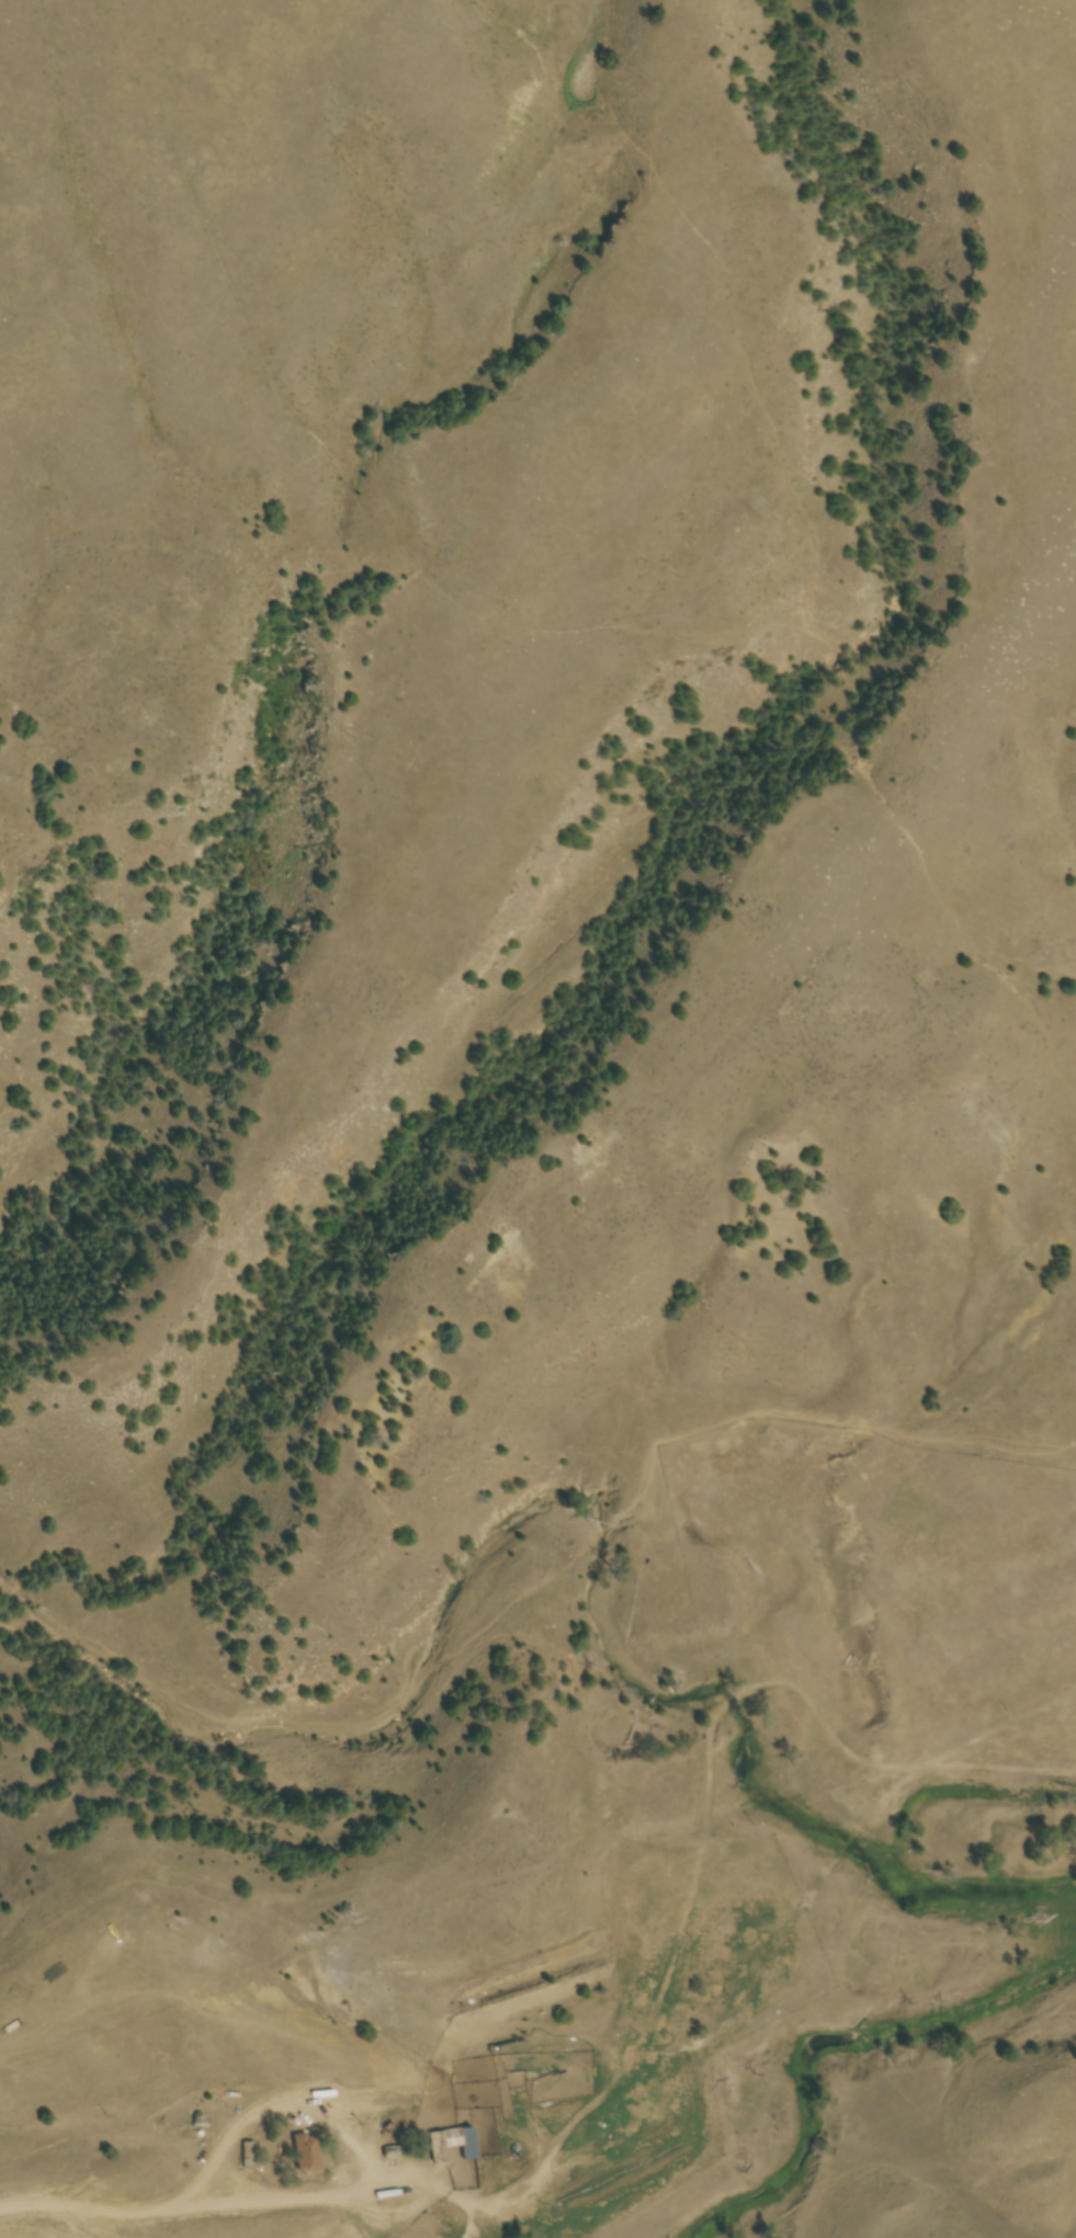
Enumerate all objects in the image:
building: (460, 2143)
building: (313, 2151)

